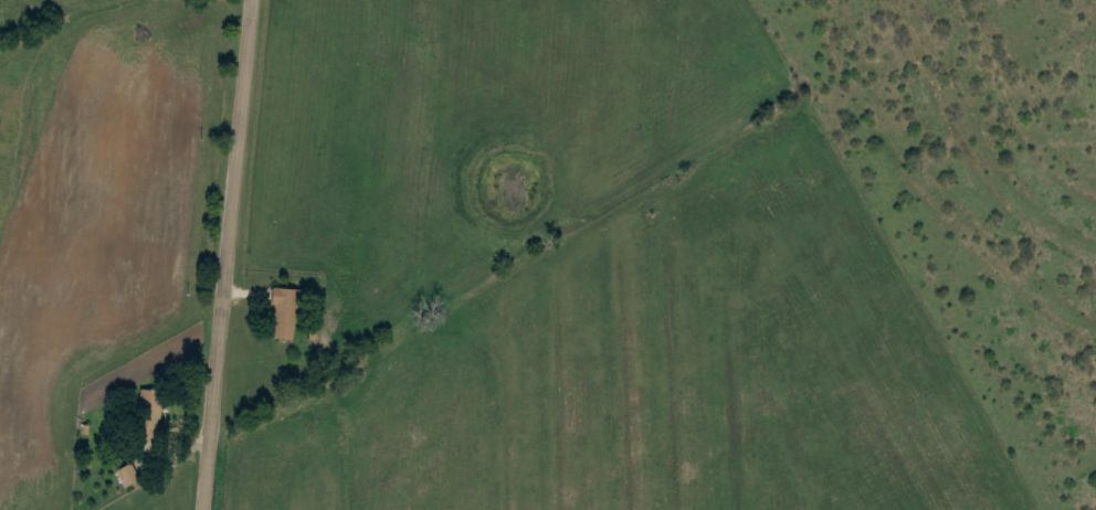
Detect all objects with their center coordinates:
road: (226, 255)
building: (284, 310)
building: (147, 414)
building: (126, 472)

